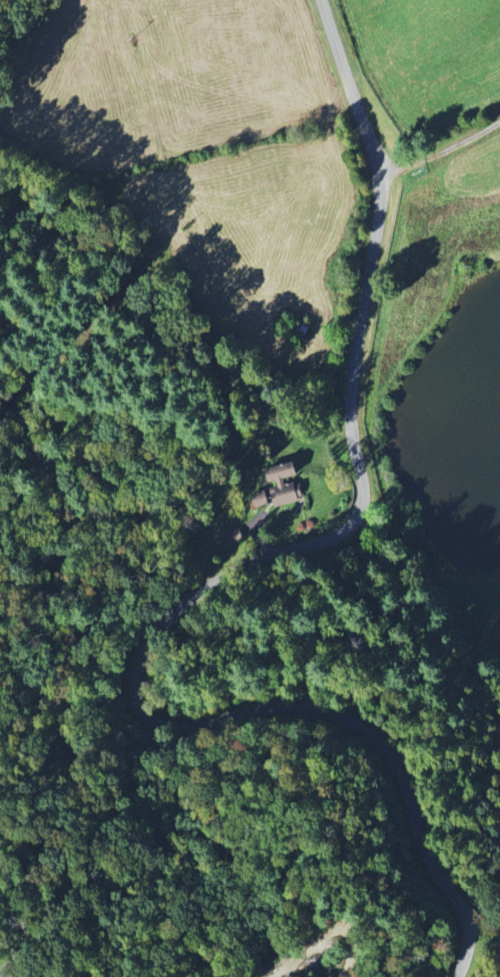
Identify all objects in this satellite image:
road: (435, 121)
building: (282, 482)
road: (211, 571)

